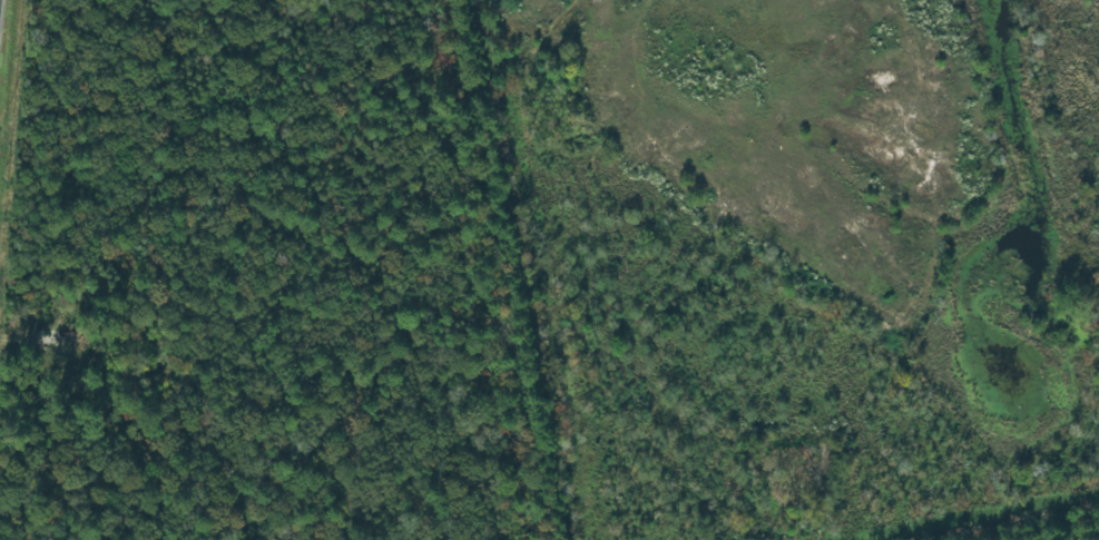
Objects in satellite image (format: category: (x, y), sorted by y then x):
road: (932, 495)

